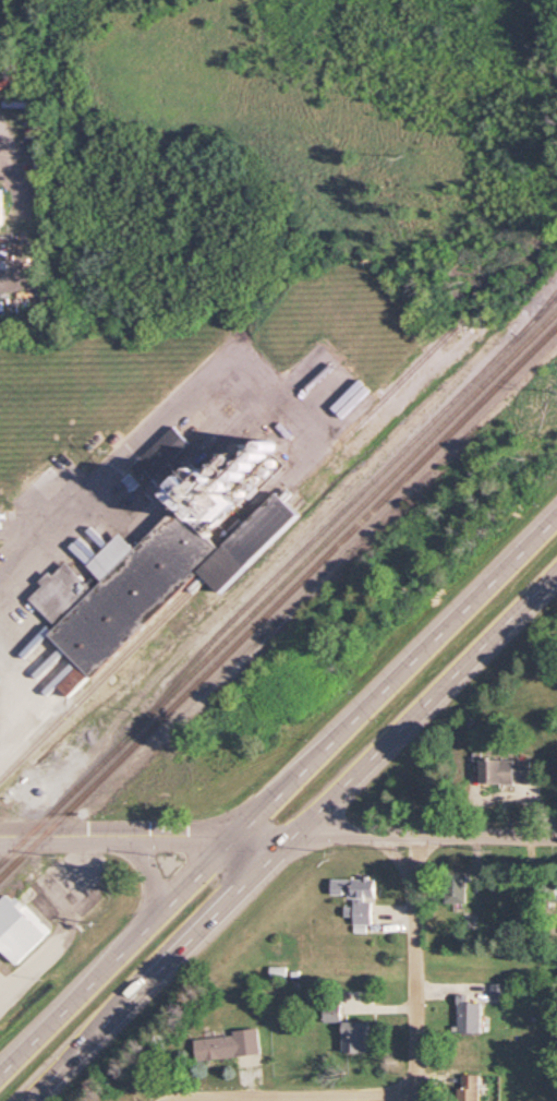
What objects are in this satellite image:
building: (2, 207)
railway: (545, 307)
road: (158, 438)
building: (230, 481)
silo: (230, 481)
railway: (336, 515)
road: (34, 522)
railway: (226, 553)
building: (131, 586)
railway: (278, 589)
railway: (278, 602)
road: (45, 698)
building: (507, 770)
road: (275, 783)
road: (278, 836)
road: (289, 836)
building: (458, 885)
building: (549, 887)
building: (358, 896)
building: (17, 930)
road: (414, 969)
building: (499, 990)
building: (331, 1013)
building: (470, 1014)
building: (356, 1038)
building: (227, 1045)
building: (470, 1087)
road: (291, 1098)

